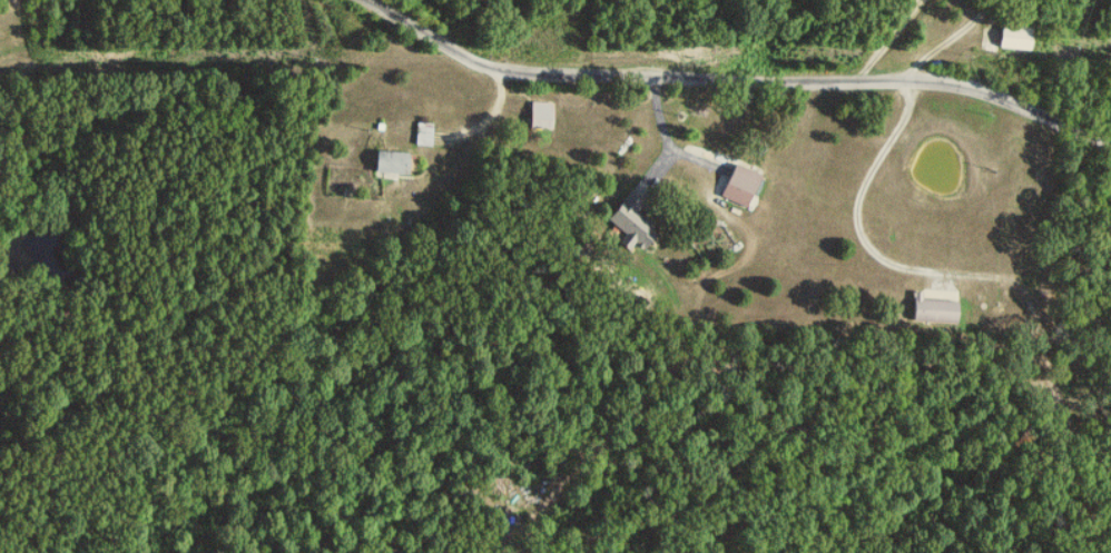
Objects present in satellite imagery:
road: (952, 38)
building: (1015, 38)
road: (889, 43)
road: (741, 81)
building: (540, 116)
road: (476, 124)
building: (390, 162)
building: (741, 186)
road: (857, 191)
building: (631, 228)
building: (934, 310)

